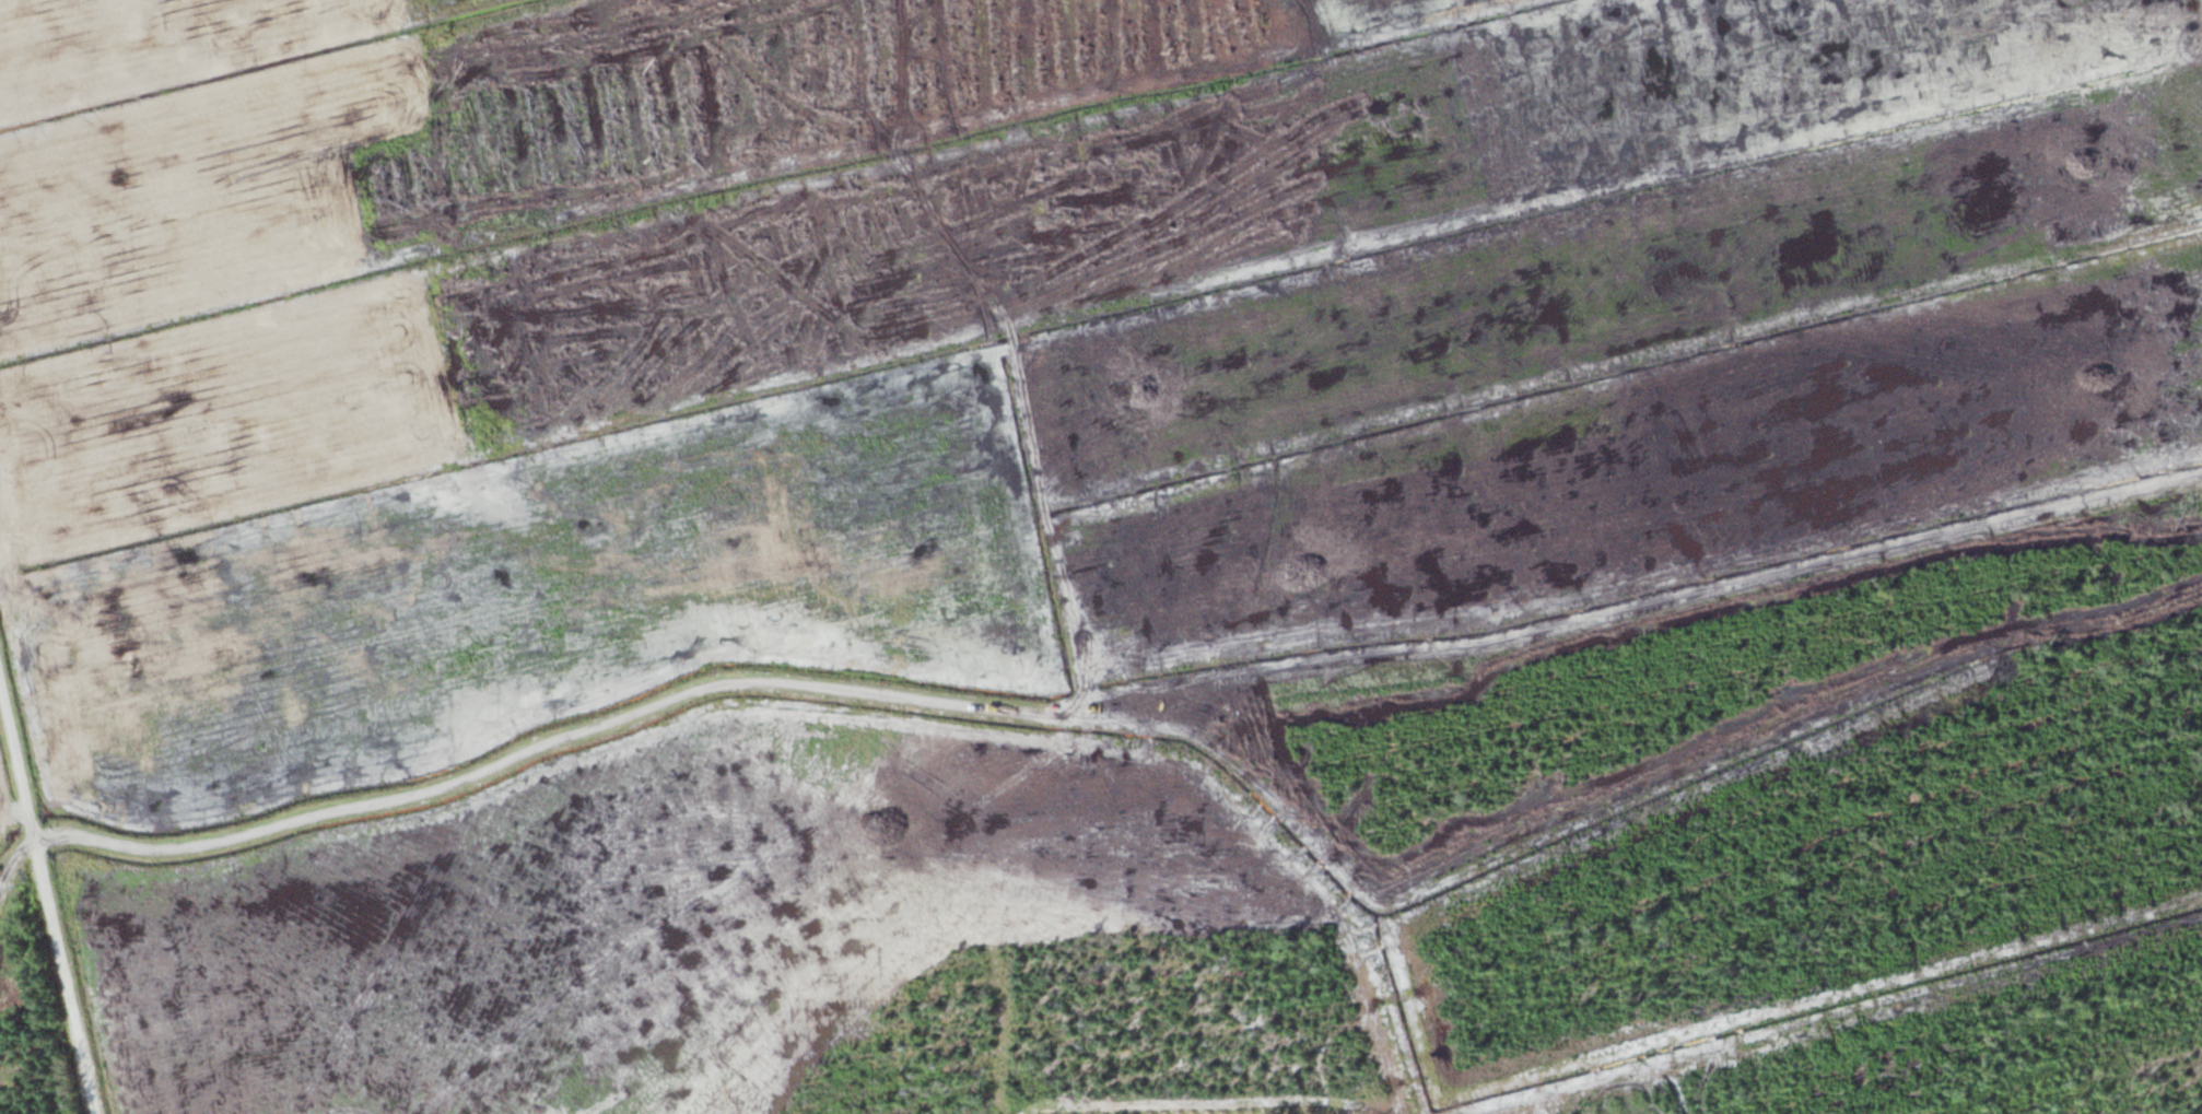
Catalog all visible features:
road: (570, 734)
road: (45, 905)

